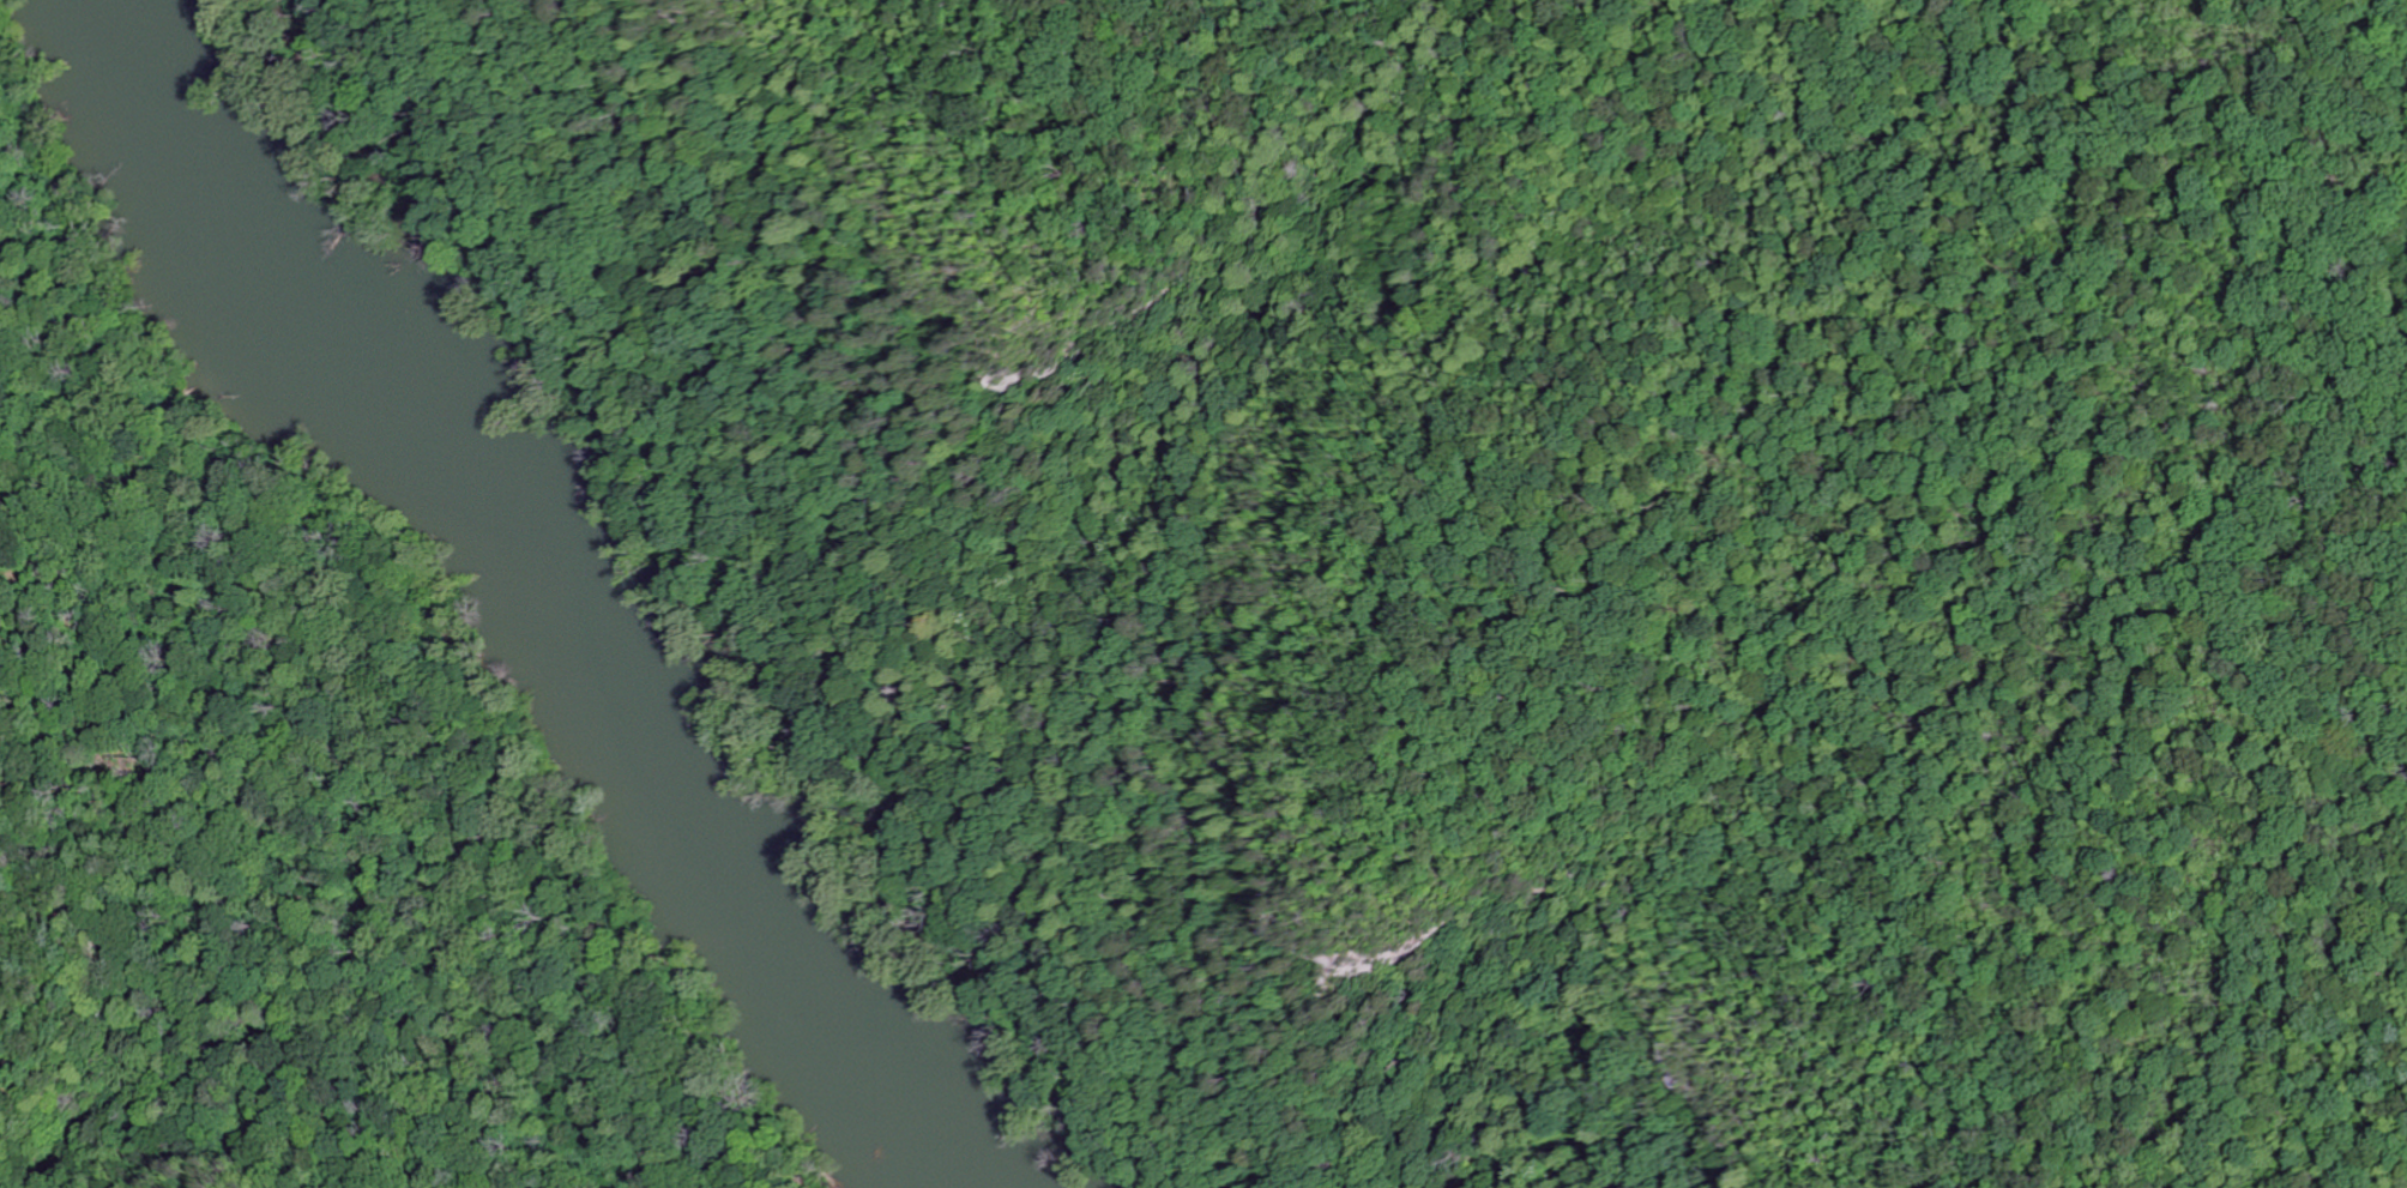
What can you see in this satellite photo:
river: (566, 598)

